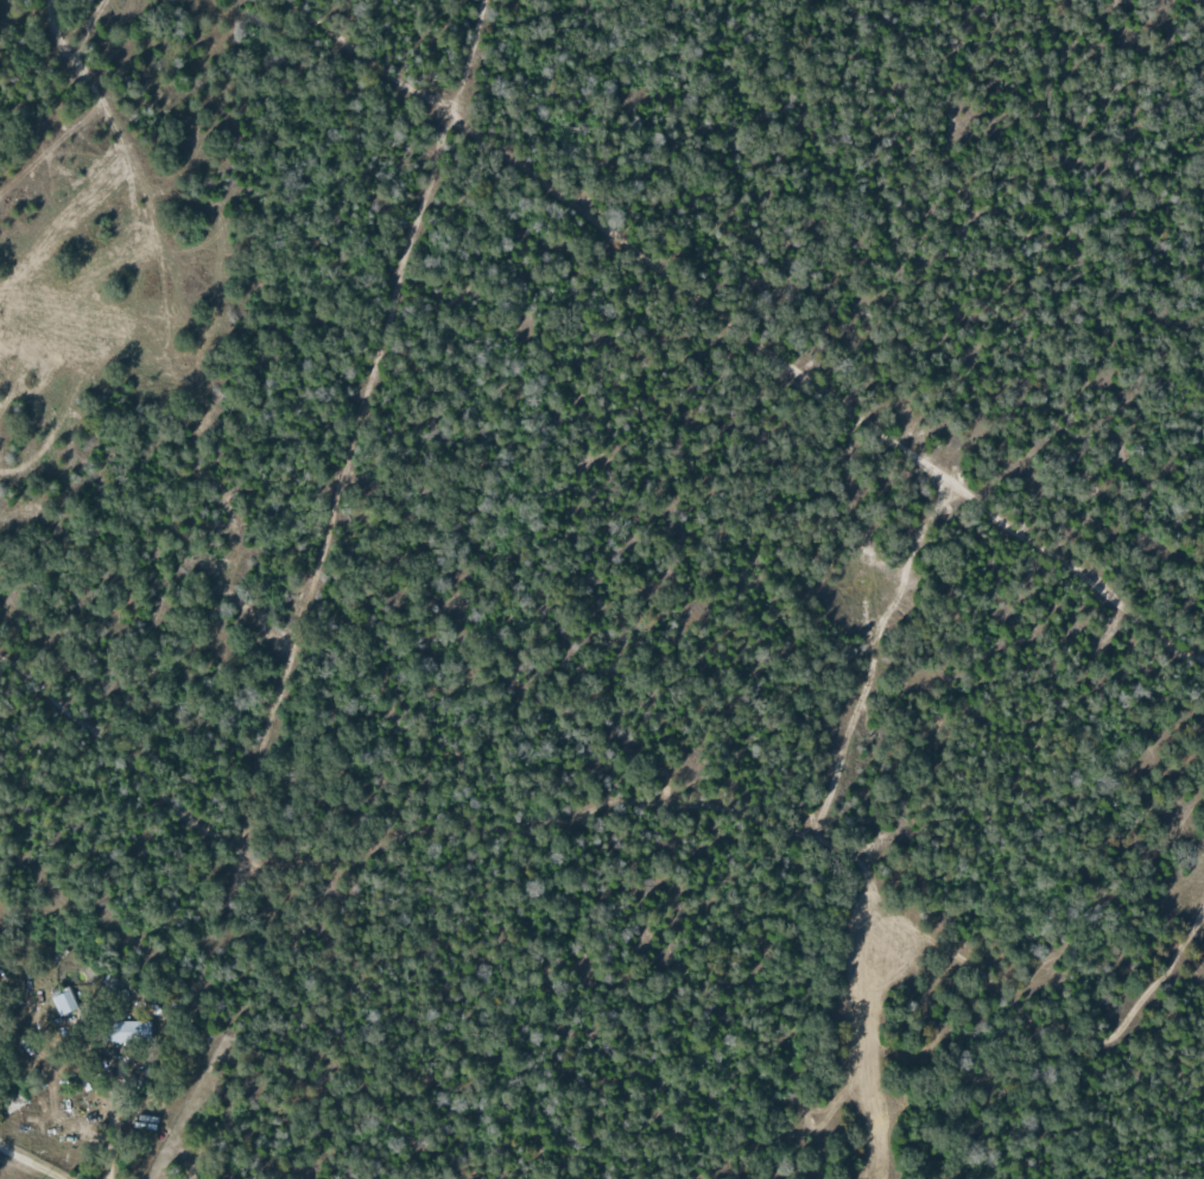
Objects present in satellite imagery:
building: (63, 1001)
building: (127, 1031)
road: (38, 1159)

